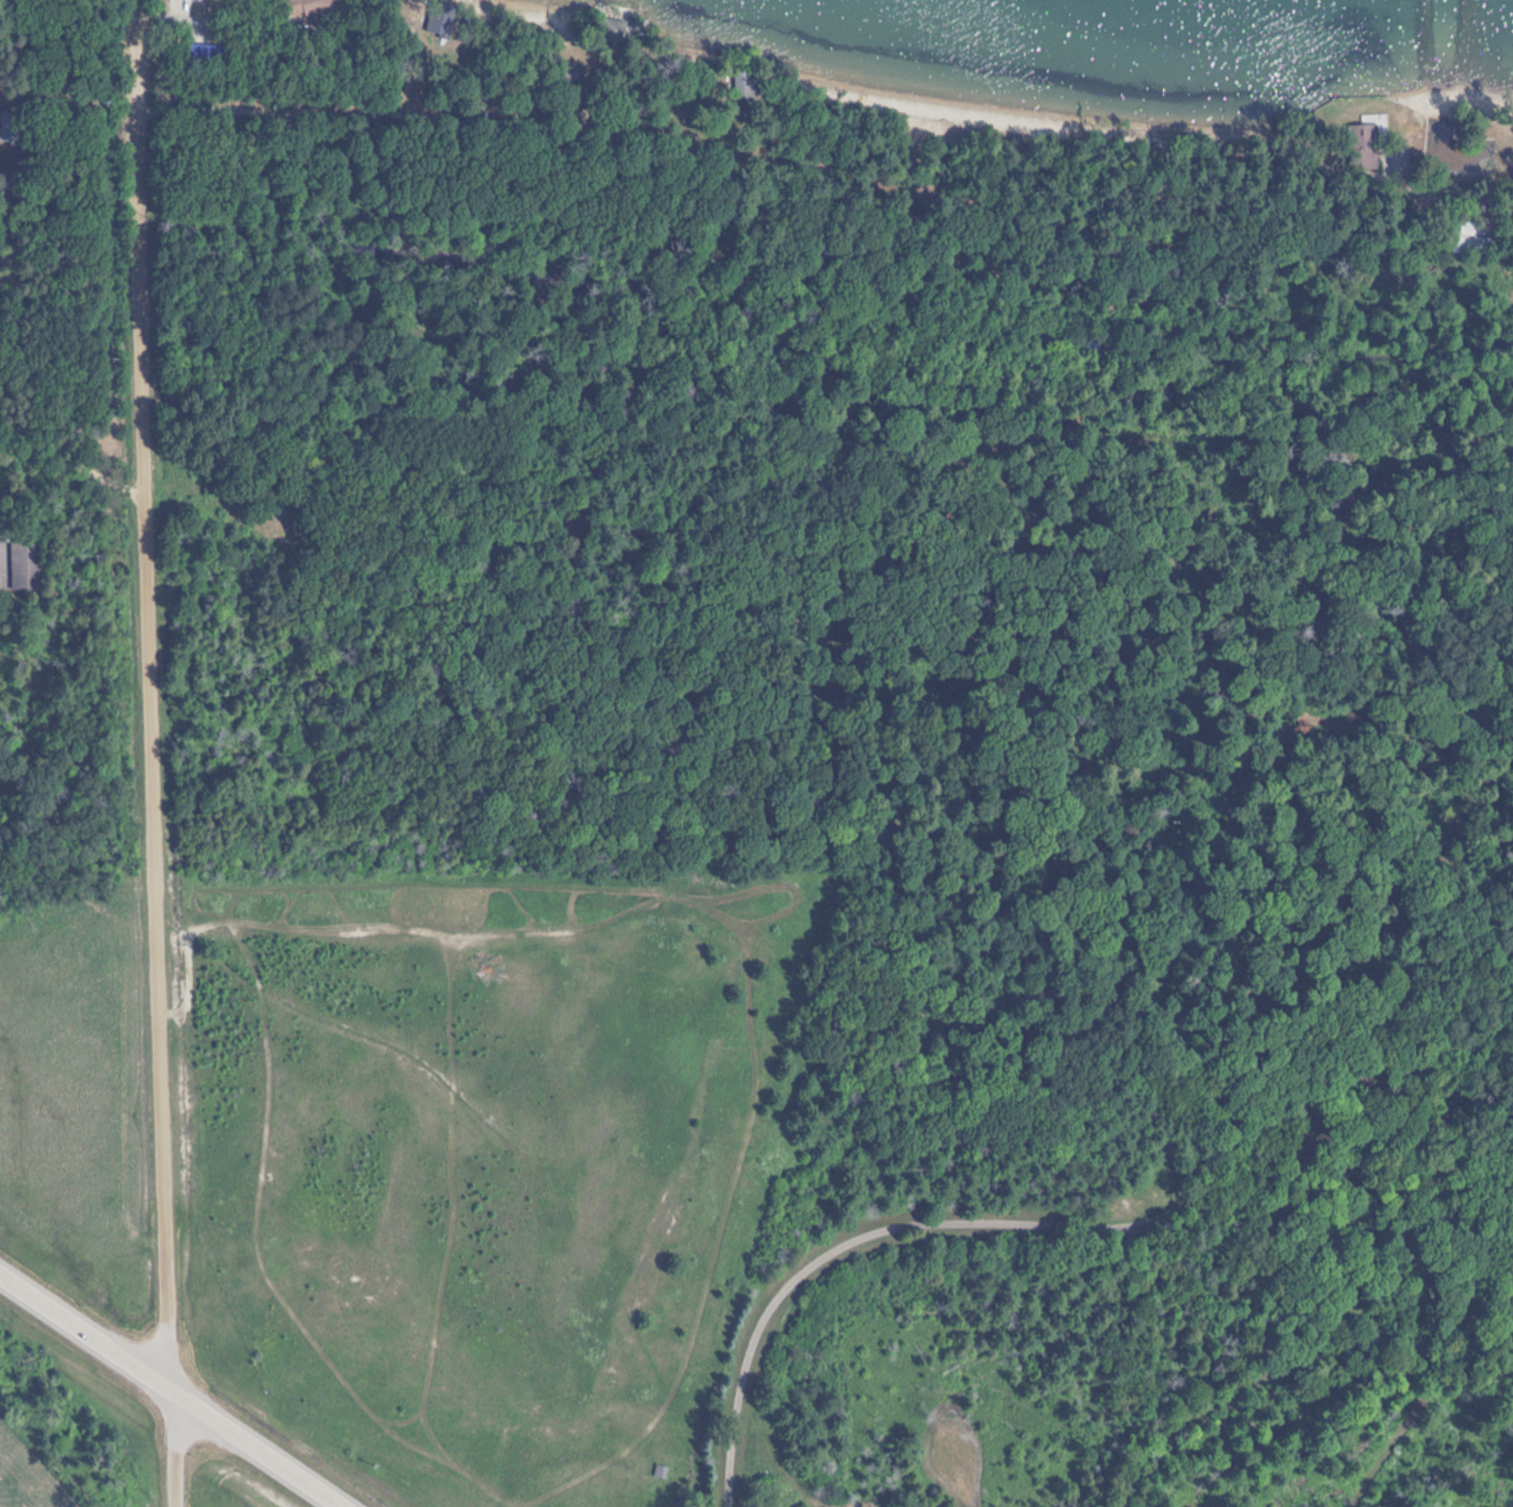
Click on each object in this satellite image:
building: (311, 8)
road: (0, 17)
building: (439, 20)
building: (610, 30)
building: (198, 54)
building: (565, 74)
building: (740, 83)
building: (1361, 146)
road: (1385, 222)
building: (1467, 234)
road: (73, 468)
road: (1286, 505)
building: (23, 565)
road: (151, 753)
road: (170, 1392)

